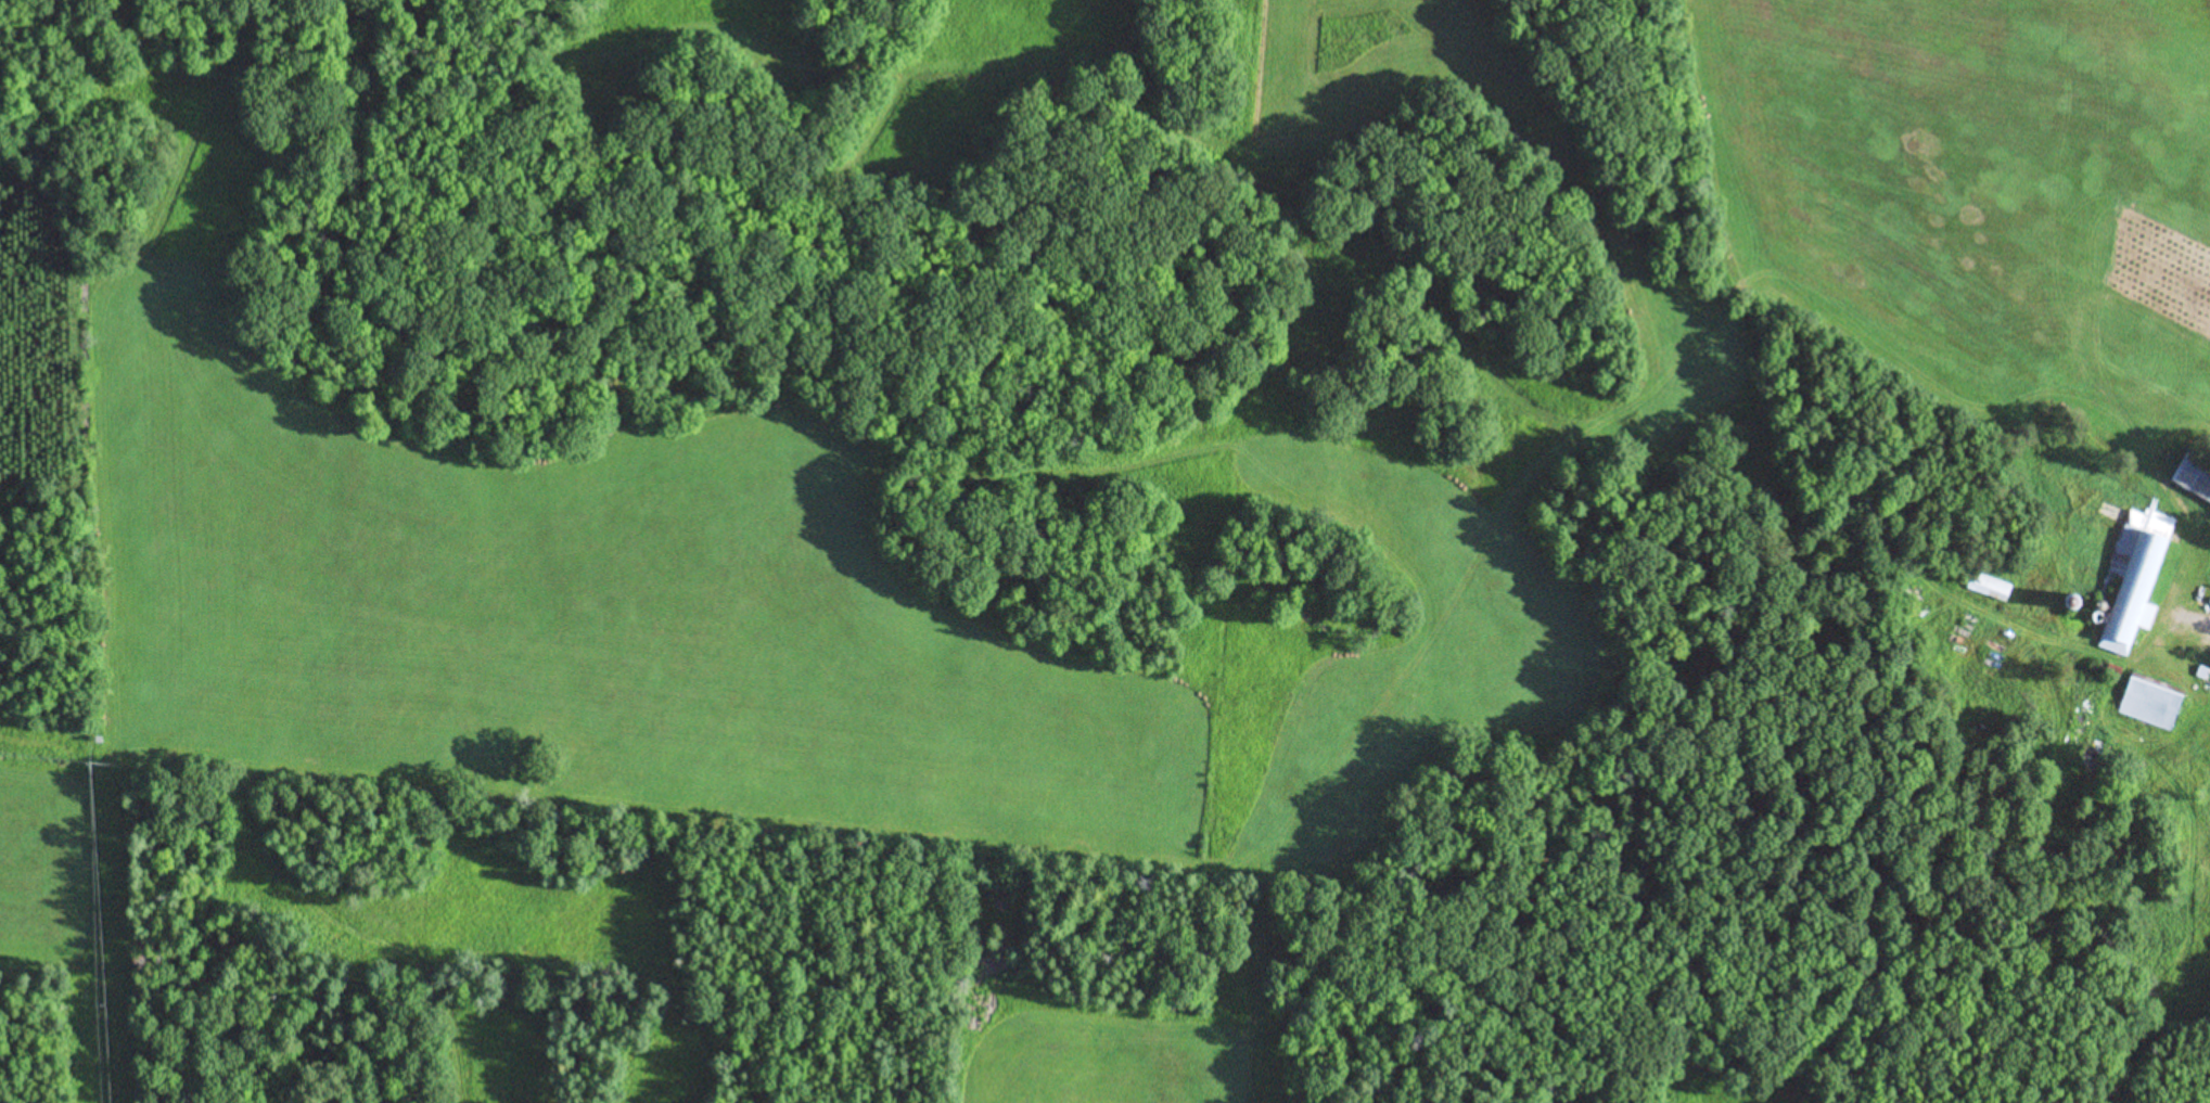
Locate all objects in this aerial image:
building: (2134, 577)
building: (2147, 701)

